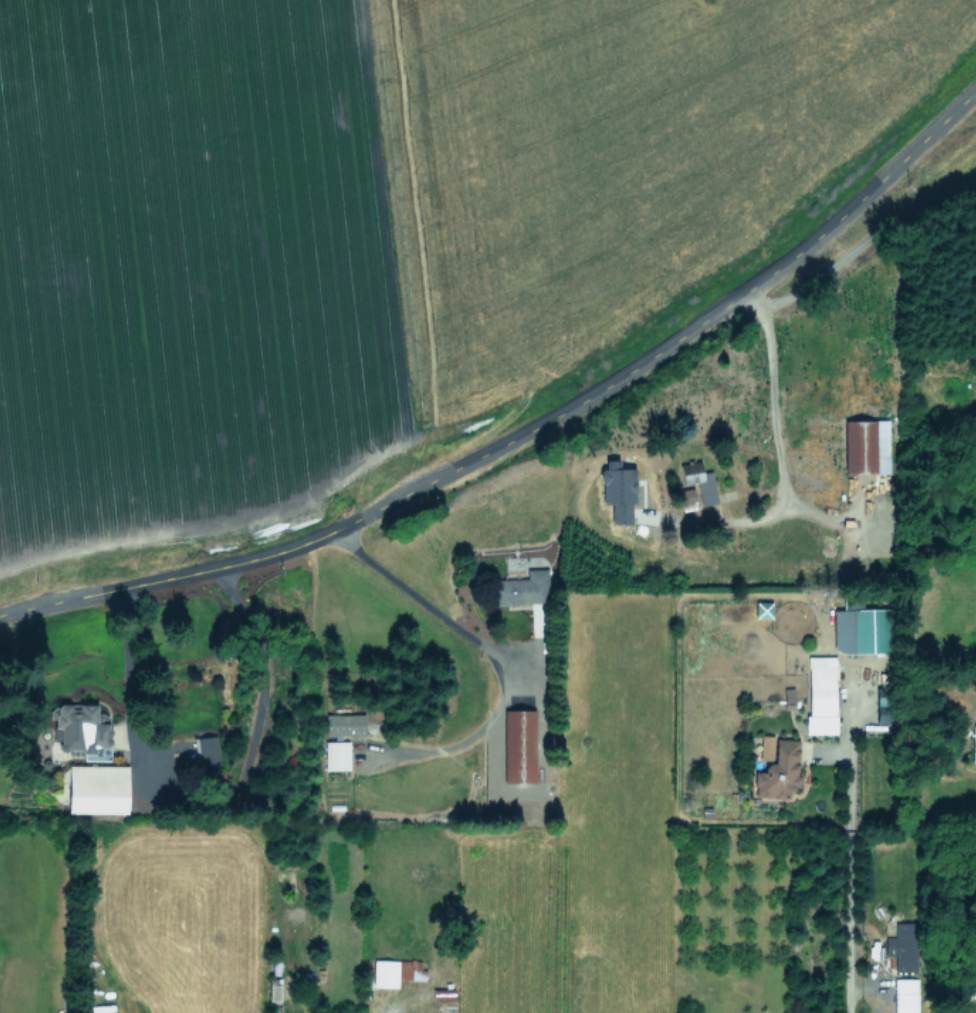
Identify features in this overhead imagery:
crop: (352, 206)
road: (855, 252)
road: (529, 429)
building: (865, 446)
road: (774, 457)
building: (698, 481)
building: (617, 490)
building: (686, 499)
building: (521, 588)
building: (860, 629)
road: (489, 648)
building: (820, 694)
building: (788, 697)
building: (343, 724)
building: (82, 731)
building: (973, 743)
building: (518, 746)
building: (206, 750)
building: (336, 755)
building: (776, 767)
building: (97, 788)
road: (213, 804)
road: (846, 868)
building: (901, 948)
building: (395, 972)
building: (904, 995)

